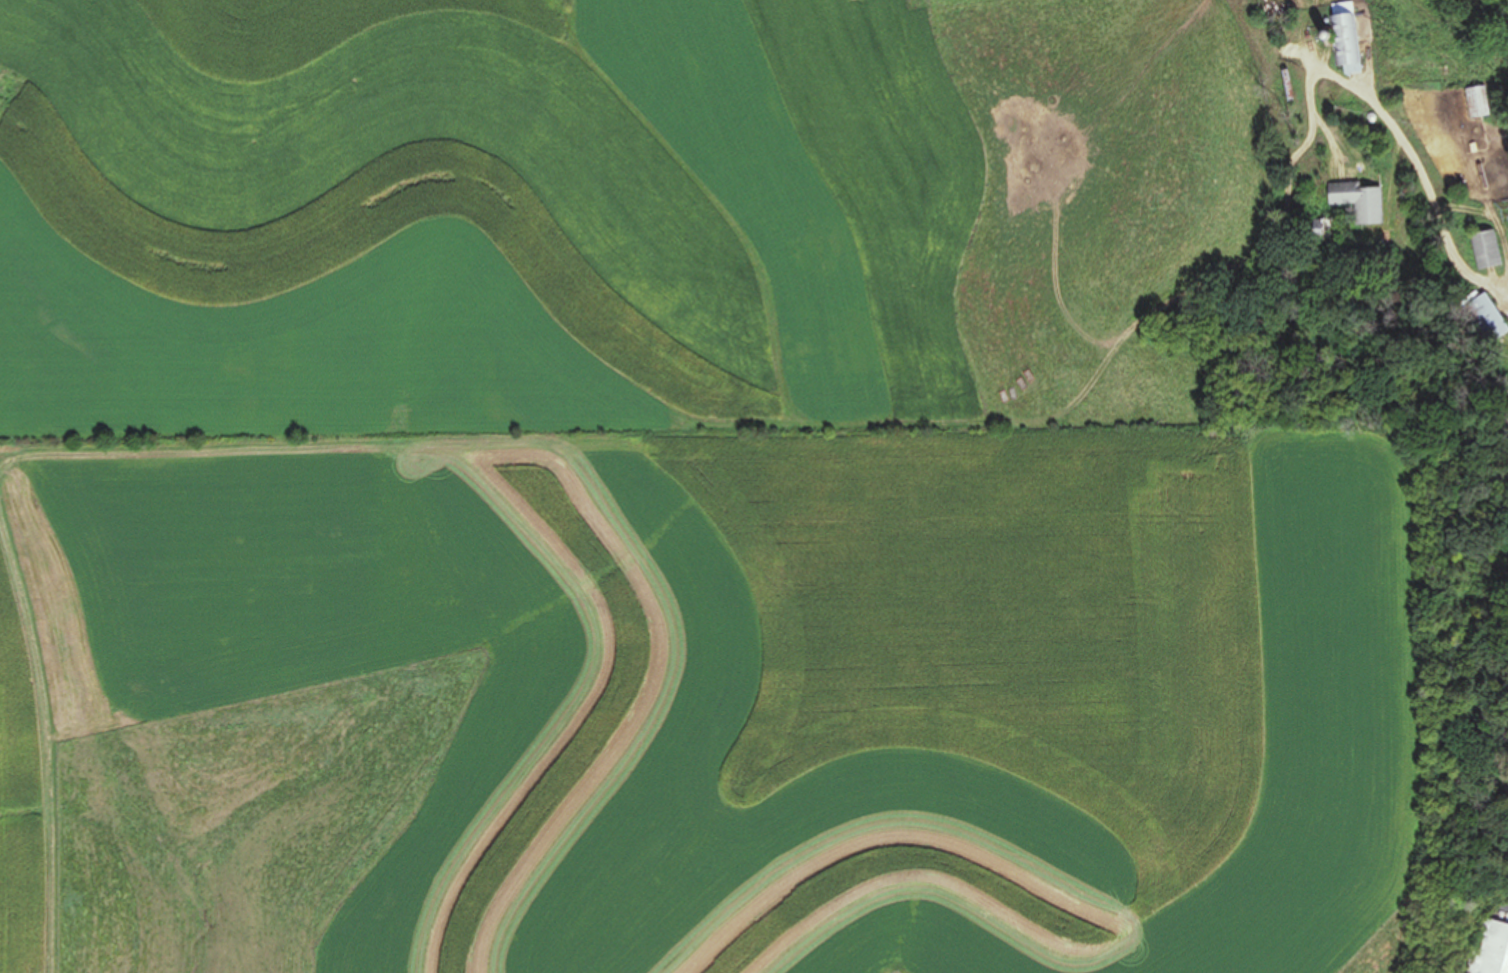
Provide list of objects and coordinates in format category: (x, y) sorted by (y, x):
building: (1344, 38)
building: (1477, 102)
building: (1356, 202)
building: (1323, 229)
building: (1486, 249)
building: (1485, 318)
building: (1487, 947)

